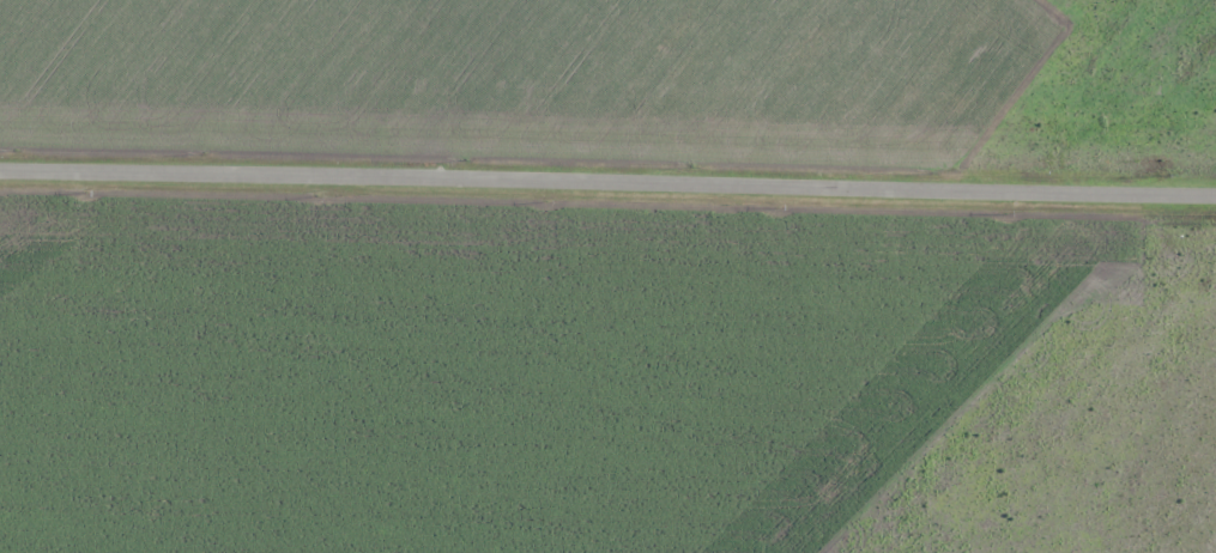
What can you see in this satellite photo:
crop: (617, 86)
road: (607, 188)
crop: (601, 382)

